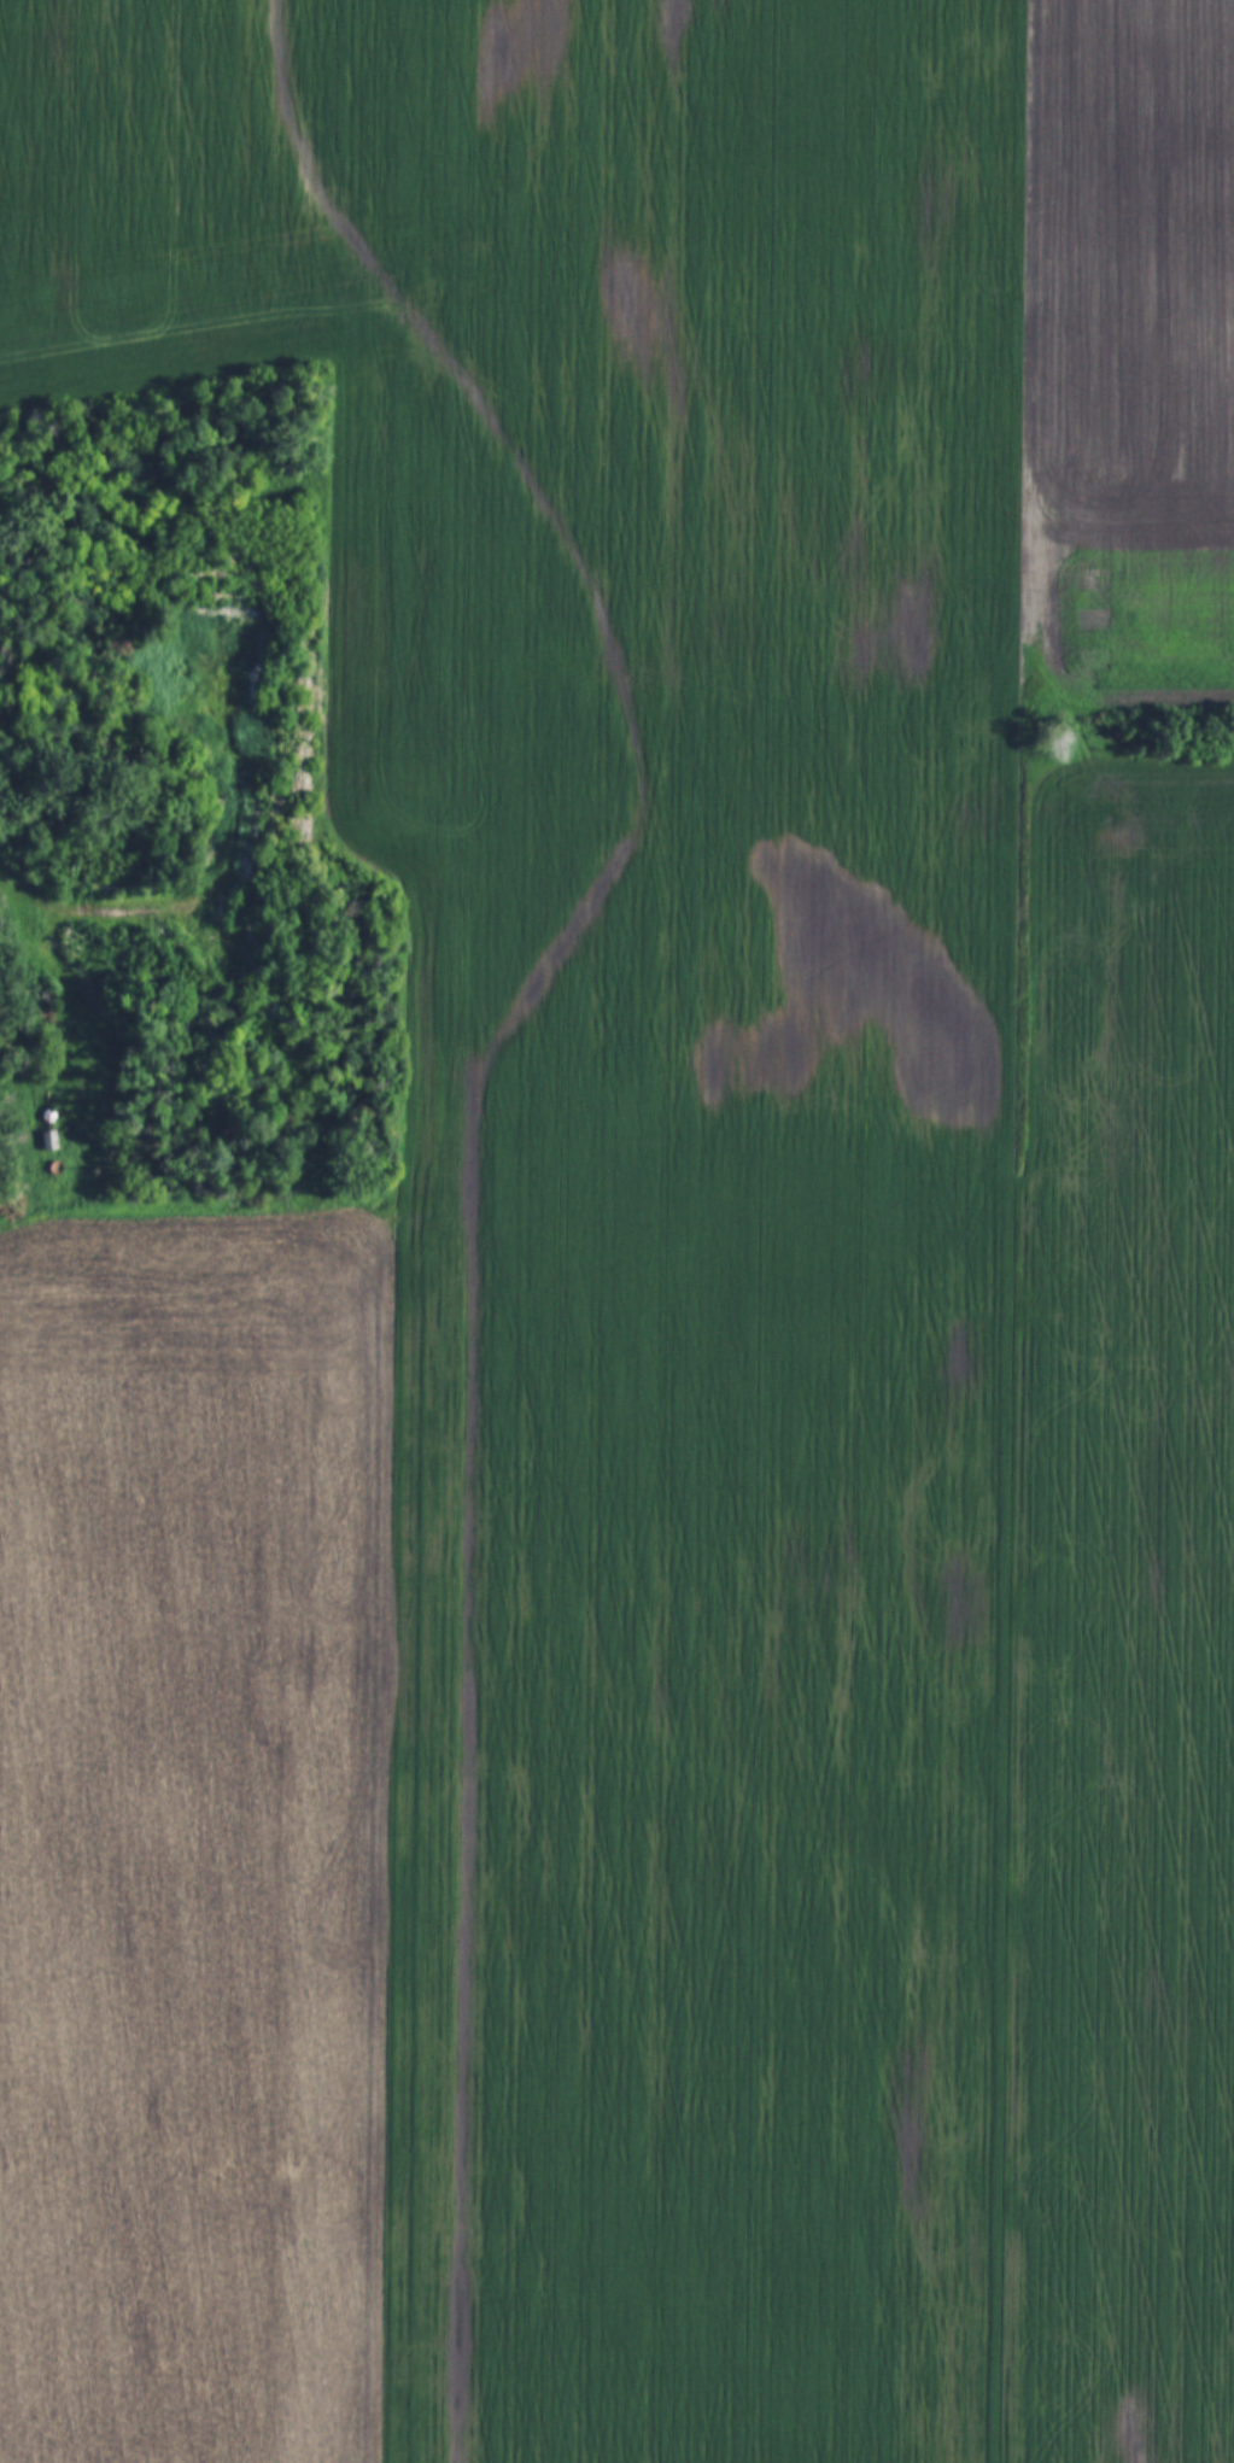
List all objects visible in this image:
road: (83, 907)

